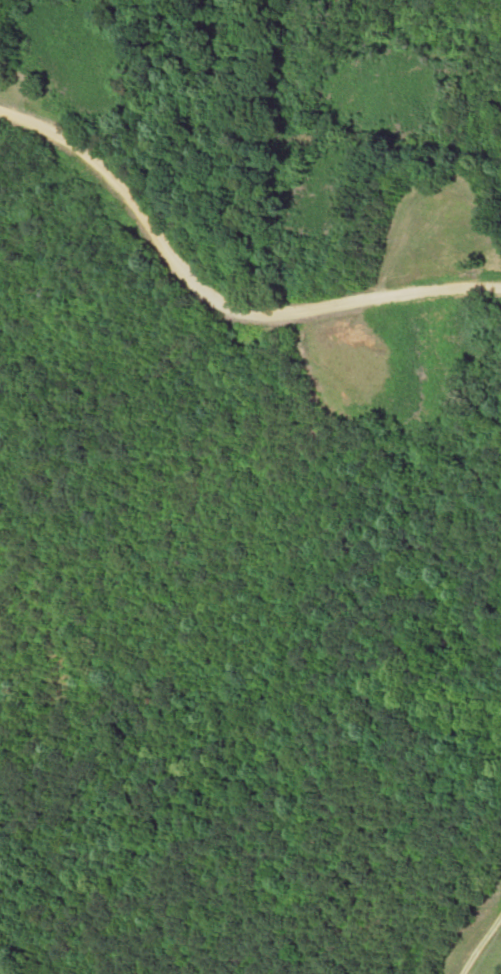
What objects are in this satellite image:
road: (210, 305)

